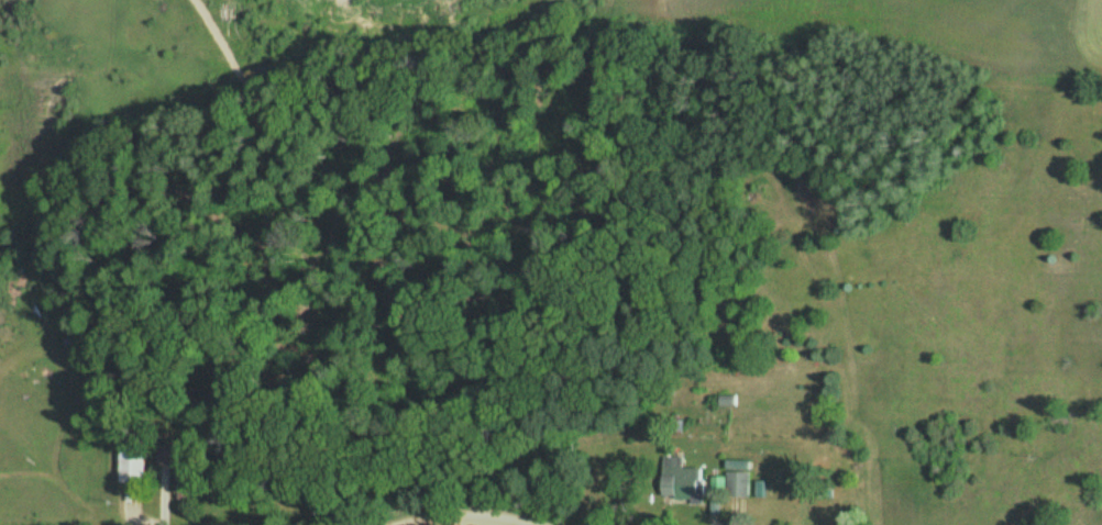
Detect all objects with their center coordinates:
building: (134, 463)
building: (187, 477)
building: (681, 477)
building: (736, 480)
road: (463, 518)

